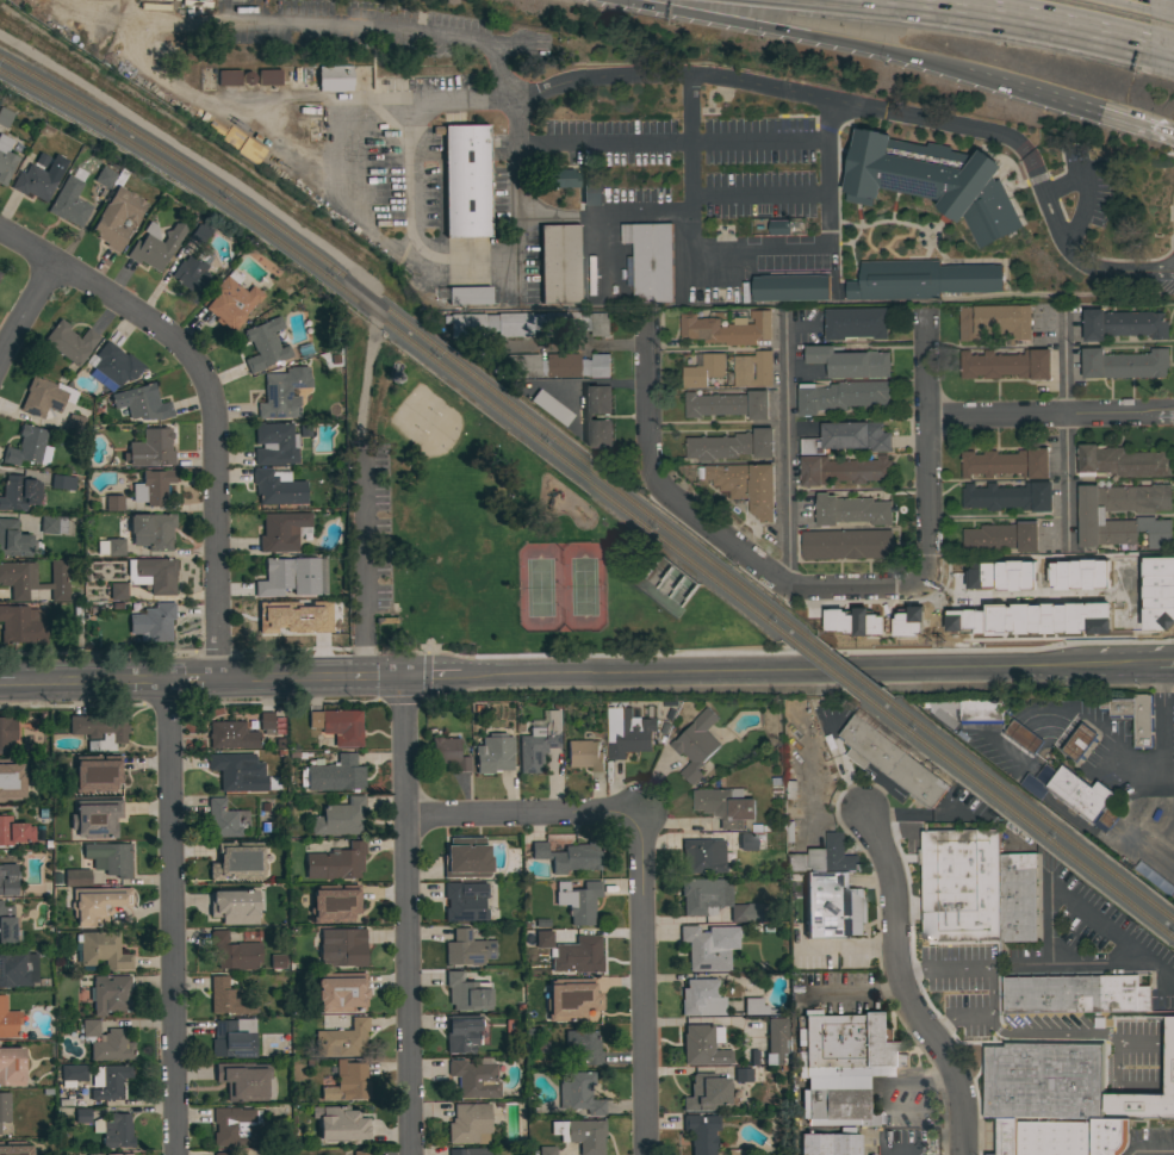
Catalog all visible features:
building: (164, 0)
building: (195, 2)
road: (1163, 2)
building: (154, 6)
road: (1018, 19)
road: (789, 33)
road: (1162, 54)
building: (228, 77)
building: (268, 77)
road: (722, 77)
building: (334, 79)
road: (979, 81)
road: (1045, 99)
building: (5, 117)
road: (1135, 125)
building: (231, 137)
building: (250, 150)
building: (5, 160)
building: (104, 176)
building: (558, 179)
building: (465, 180)
building: (931, 180)
building: (33, 182)
building: (590, 191)
building: (69, 203)
road: (608, 215)
building: (117, 218)
road: (1172, 221)
building: (778, 226)
road: (372, 232)
building: (199, 234)
building: (155, 246)
road: (747, 246)
road: (1173, 249)
building: (650, 260)
building: (559, 263)
building: (1, 268)
building: (192, 275)
building: (921, 279)
building: (790, 287)
building: (464, 296)
building: (230, 300)
road: (25, 305)
building: (995, 321)
building: (856, 322)
building: (526, 323)
building: (1122, 323)
building: (726, 328)
railway: (416, 334)
building: (69, 342)
railway: (406, 342)
road: (573, 343)
building: (263, 344)
building: (850, 361)
building: (1005, 364)
building: (1123, 364)
building: (116, 365)
building: (551, 366)
building: (703, 370)
building: (743, 371)
building: (282, 393)
building: (840, 396)
building: (45, 397)
building: (142, 403)
road: (209, 403)
building: (727, 404)
building: (549, 409)
road: (1049, 412)
building: (588, 416)
building: (74, 423)
road: (1064, 426)
building: (847, 436)
building: (274, 443)
building: (731, 445)
building: (27, 447)
building: (150, 449)
road: (787, 452)
road: (925, 452)
building: (1122, 461)
building: (1006, 462)
building: (843, 470)
building: (62, 482)
building: (745, 484)
building: (151, 488)
building: (277, 488)
building: (14, 492)
building: (1008, 496)
building: (113, 503)
building: (851, 510)
building: (1092, 517)
building: (52, 524)
road: (712, 528)
building: (150, 530)
building: (280, 532)
building: (1001, 536)
building: (13, 540)
park: (498, 542)
building: (846, 544)
building: (111, 547)
road: (366, 570)
building: (157, 575)
building: (1073, 575)
building: (995, 576)
building: (292, 577)
building: (33, 579)
park: (560, 589)
building: (118, 591)
building: (1154, 594)
road: (1020, 597)
building: (75, 619)
building: (1026, 619)
building: (271, 620)
building: (851, 621)
building: (153, 622)
building: (903, 622)
building: (21, 626)
road: (1155, 663)
railway: (827, 667)
railway: (845, 667)
road: (569, 675)
traffic signals: (399, 678)
road: (422, 696)
building: (968, 710)
building: (1133, 716)
building: (266, 721)
building: (275, 725)
building: (338, 726)
building: (100, 732)
building: (628, 732)
building: (6, 734)
building: (231, 735)
building: (1023, 735)
building: (1079, 741)
building: (871, 743)
building: (538, 744)
building: (696, 744)
building: (493, 753)
building: (448, 755)
building: (584, 755)
building: (230, 770)
building: (95, 774)
building: (6, 775)
building: (333, 775)
building: (918, 777)
road: (1168, 778)
road: (1160, 781)
building: (790, 791)
building: (1076, 795)
building: (726, 806)
railway: (1025, 806)
road: (521, 813)
railway: (1017, 814)
building: (340, 818)
building: (95, 819)
building: (224, 819)
road: (672, 825)
building: (14, 831)
building: (747, 842)
building: (819, 855)
building: (569, 856)
building: (702, 856)
building: (108, 858)
building: (466, 858)
building: (237, 862)
building: (336, 863)
building: (76, 877)
building: (7, 880)
building: (958, 883)
building: (1017, 896)
road: (1068, 900)
building: (464, 901)
building: (578, 901)
building: (719, 901)
building: (347, 903)
building: (97, 905)
building: (831, 905)
building: (234, 907)
road: (403, 917)
road: (169, 918)
building: (7, 926)
building: (543, 939)
building: (709, 946)
building: (341, 948)
road: (816, 948)
building: (467, 949)
building: (101, 951)
building: (232, 952)
building: (585, 955)
road: (1095, 960)
building: (277, 962)
building: (17, 968)
road: (989, 982)
road: (641, 983)
road: (900, 986)
building: (341, 992)
building: (466, 992)
building: (1074, 993)
building: (110, 994)
building: (226, 998)
building: (701, 998)
building: (570, 999)
building: (757, 1007)
building: (8, 1020)
building: (511, 1026)
building: (89, 1027)
building: (461, 1032)
road: (1068, 1036)
building: (234, 1038)
road: (1164, 1039)
building: (342, 1041)
building: (776, 1041)
building: (846, 1042)
building: (703, 1045)
building: (111, 1047)
building: (583, 1047)
building: (12, 1067)
building: (73, 1073)
building: (743, 1075)
building: (474, 1079)
building: (1043, 1079)
building: (108, 1081)
building: (347, 1082)
road: (1117, 1082)
building: (225, 1083)
building: (578, 1093)
building: (707, 1093)
building: (839, 1093)
road: (1166, 1093)
building: (4, 1107)
building: (81, 1114)
building: (468, 1124)
building: (342, 1125)
building: (235, 1128)
building: (116, 1131)
building: (701, 1132)
building: (580, 1135)
building: (1110, 1135)
building: (1005, 1136)
building: (1052, 1137)
building: (828, 1144)
road: (882, 1145)
building: (17, 1150)
building: (546, 1150)
building: (472, 1151)
building: (737, 1151)
building: (901, 1151)
building: (360, 1153)
building: (108, 1154)
building: (222, 1154)

